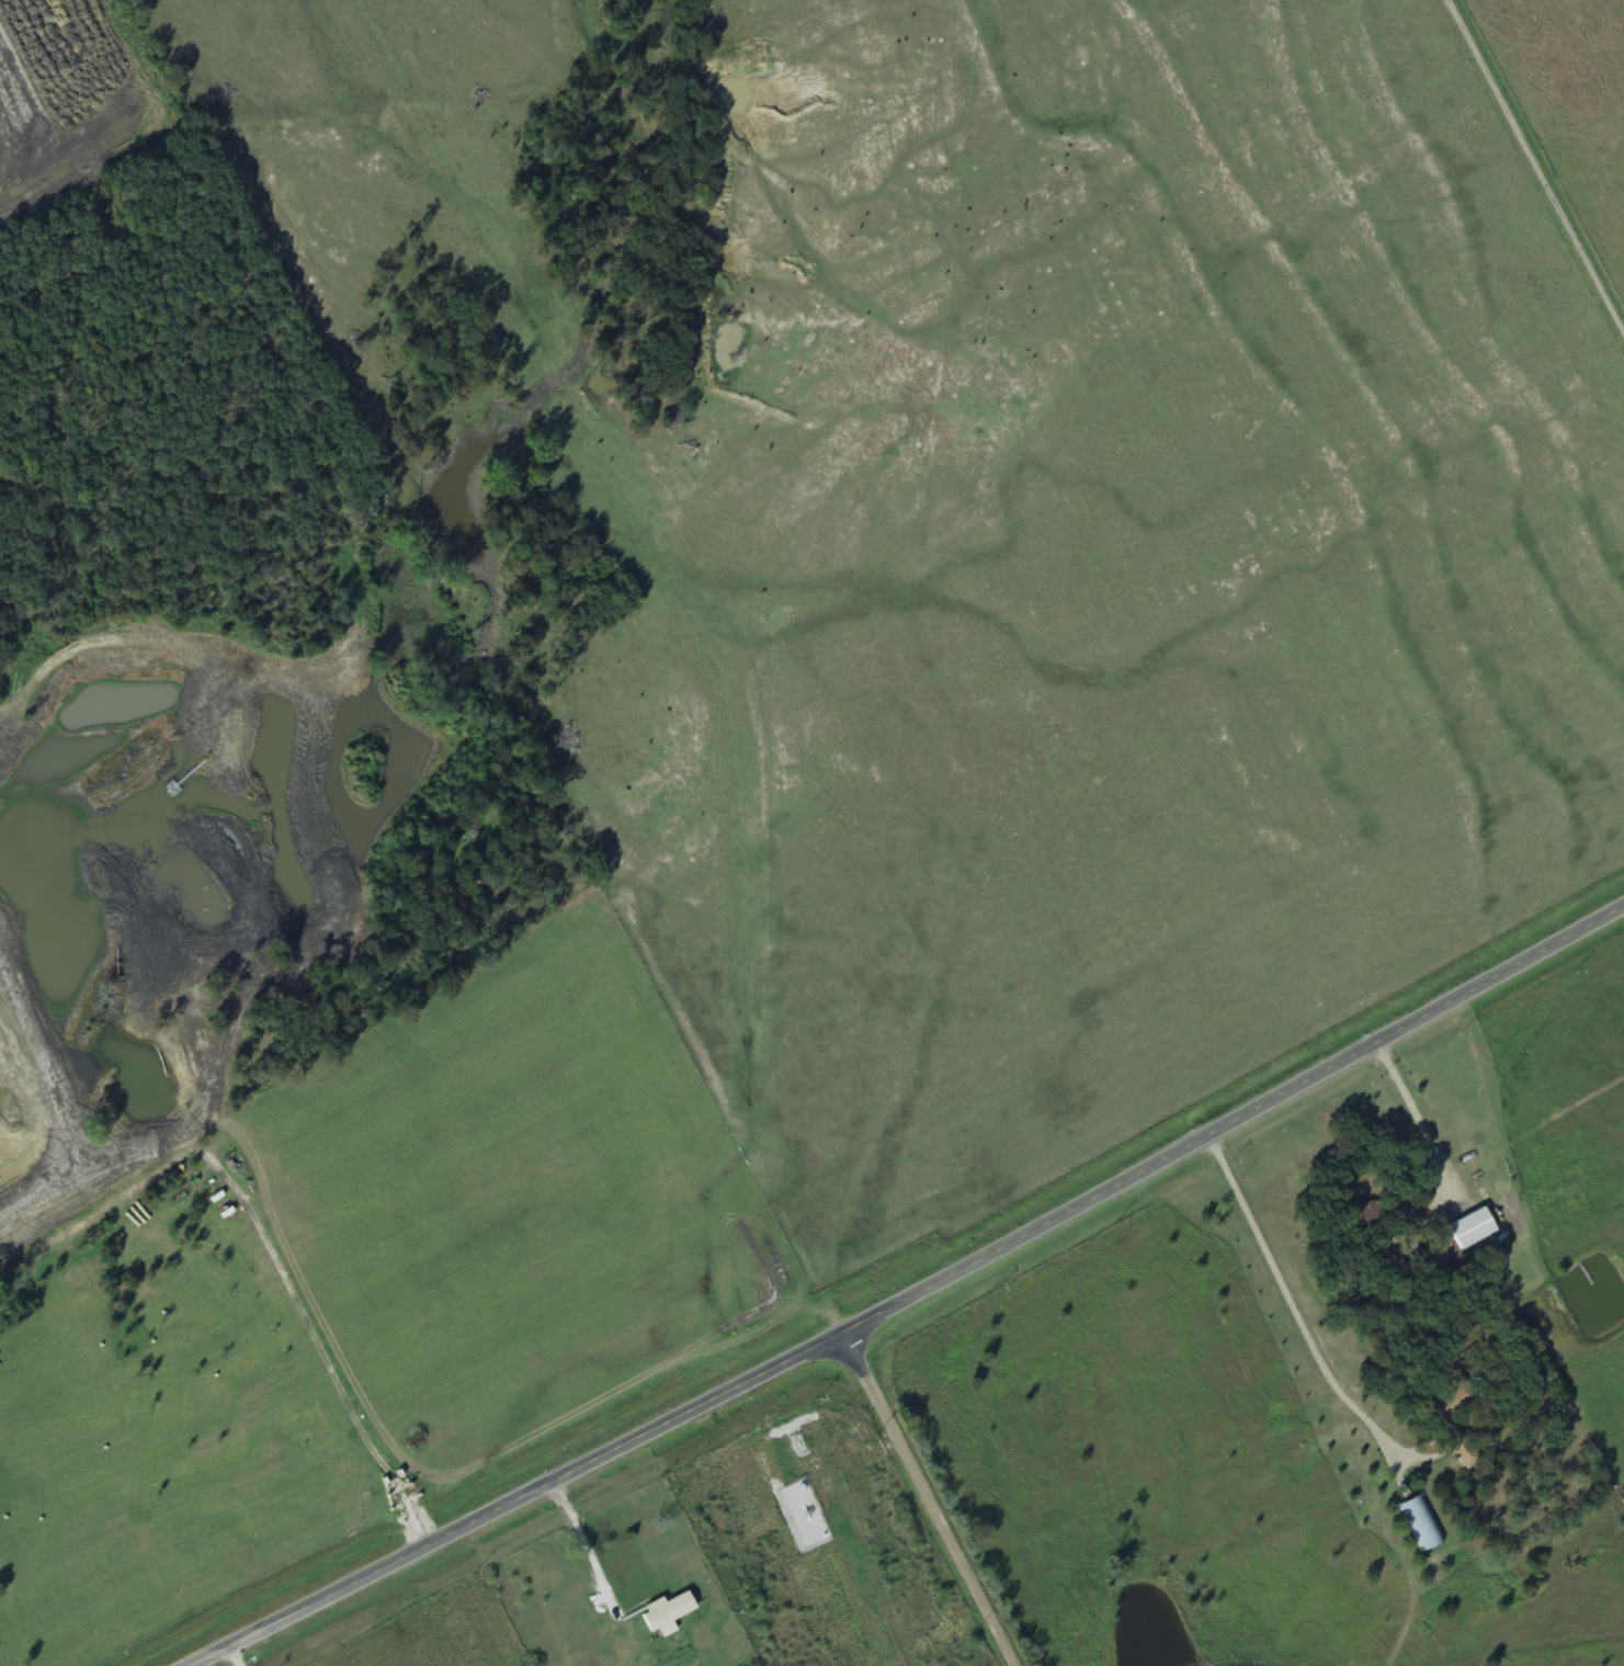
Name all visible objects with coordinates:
dam: (61, 1191)
building: (1470, 1228)
road: (913, 1301)
building: (1449, 1404)
building: (1462, 1450)
road: (923, 1504)
building: (1421, 1522)
building: (666, 1613)

